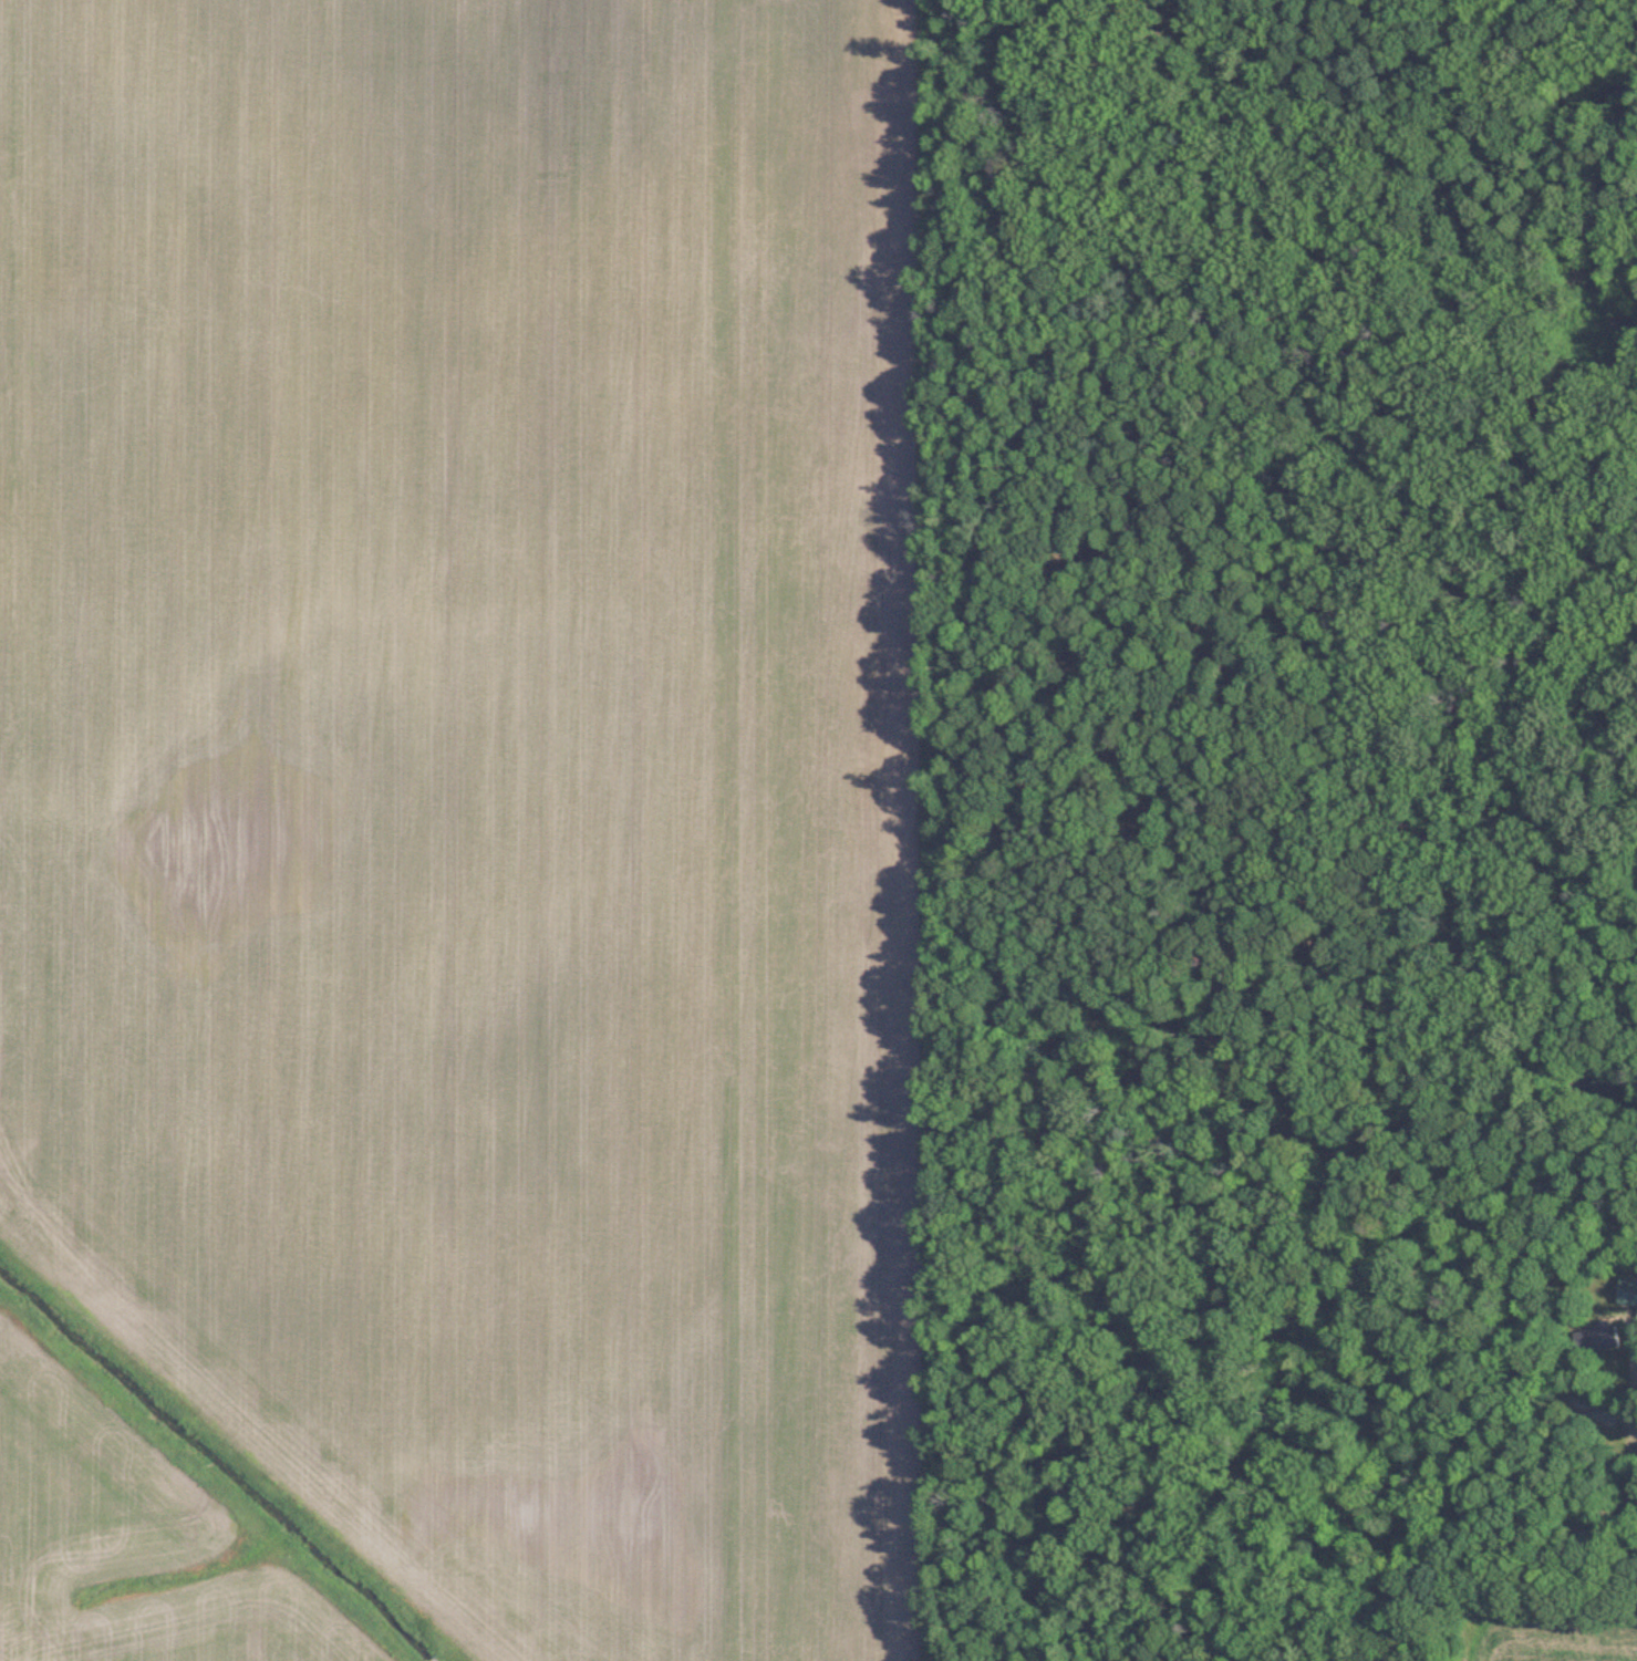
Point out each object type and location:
building: (1628, 1290)
building: (1598, 1337)
road: (1634, 1379)

